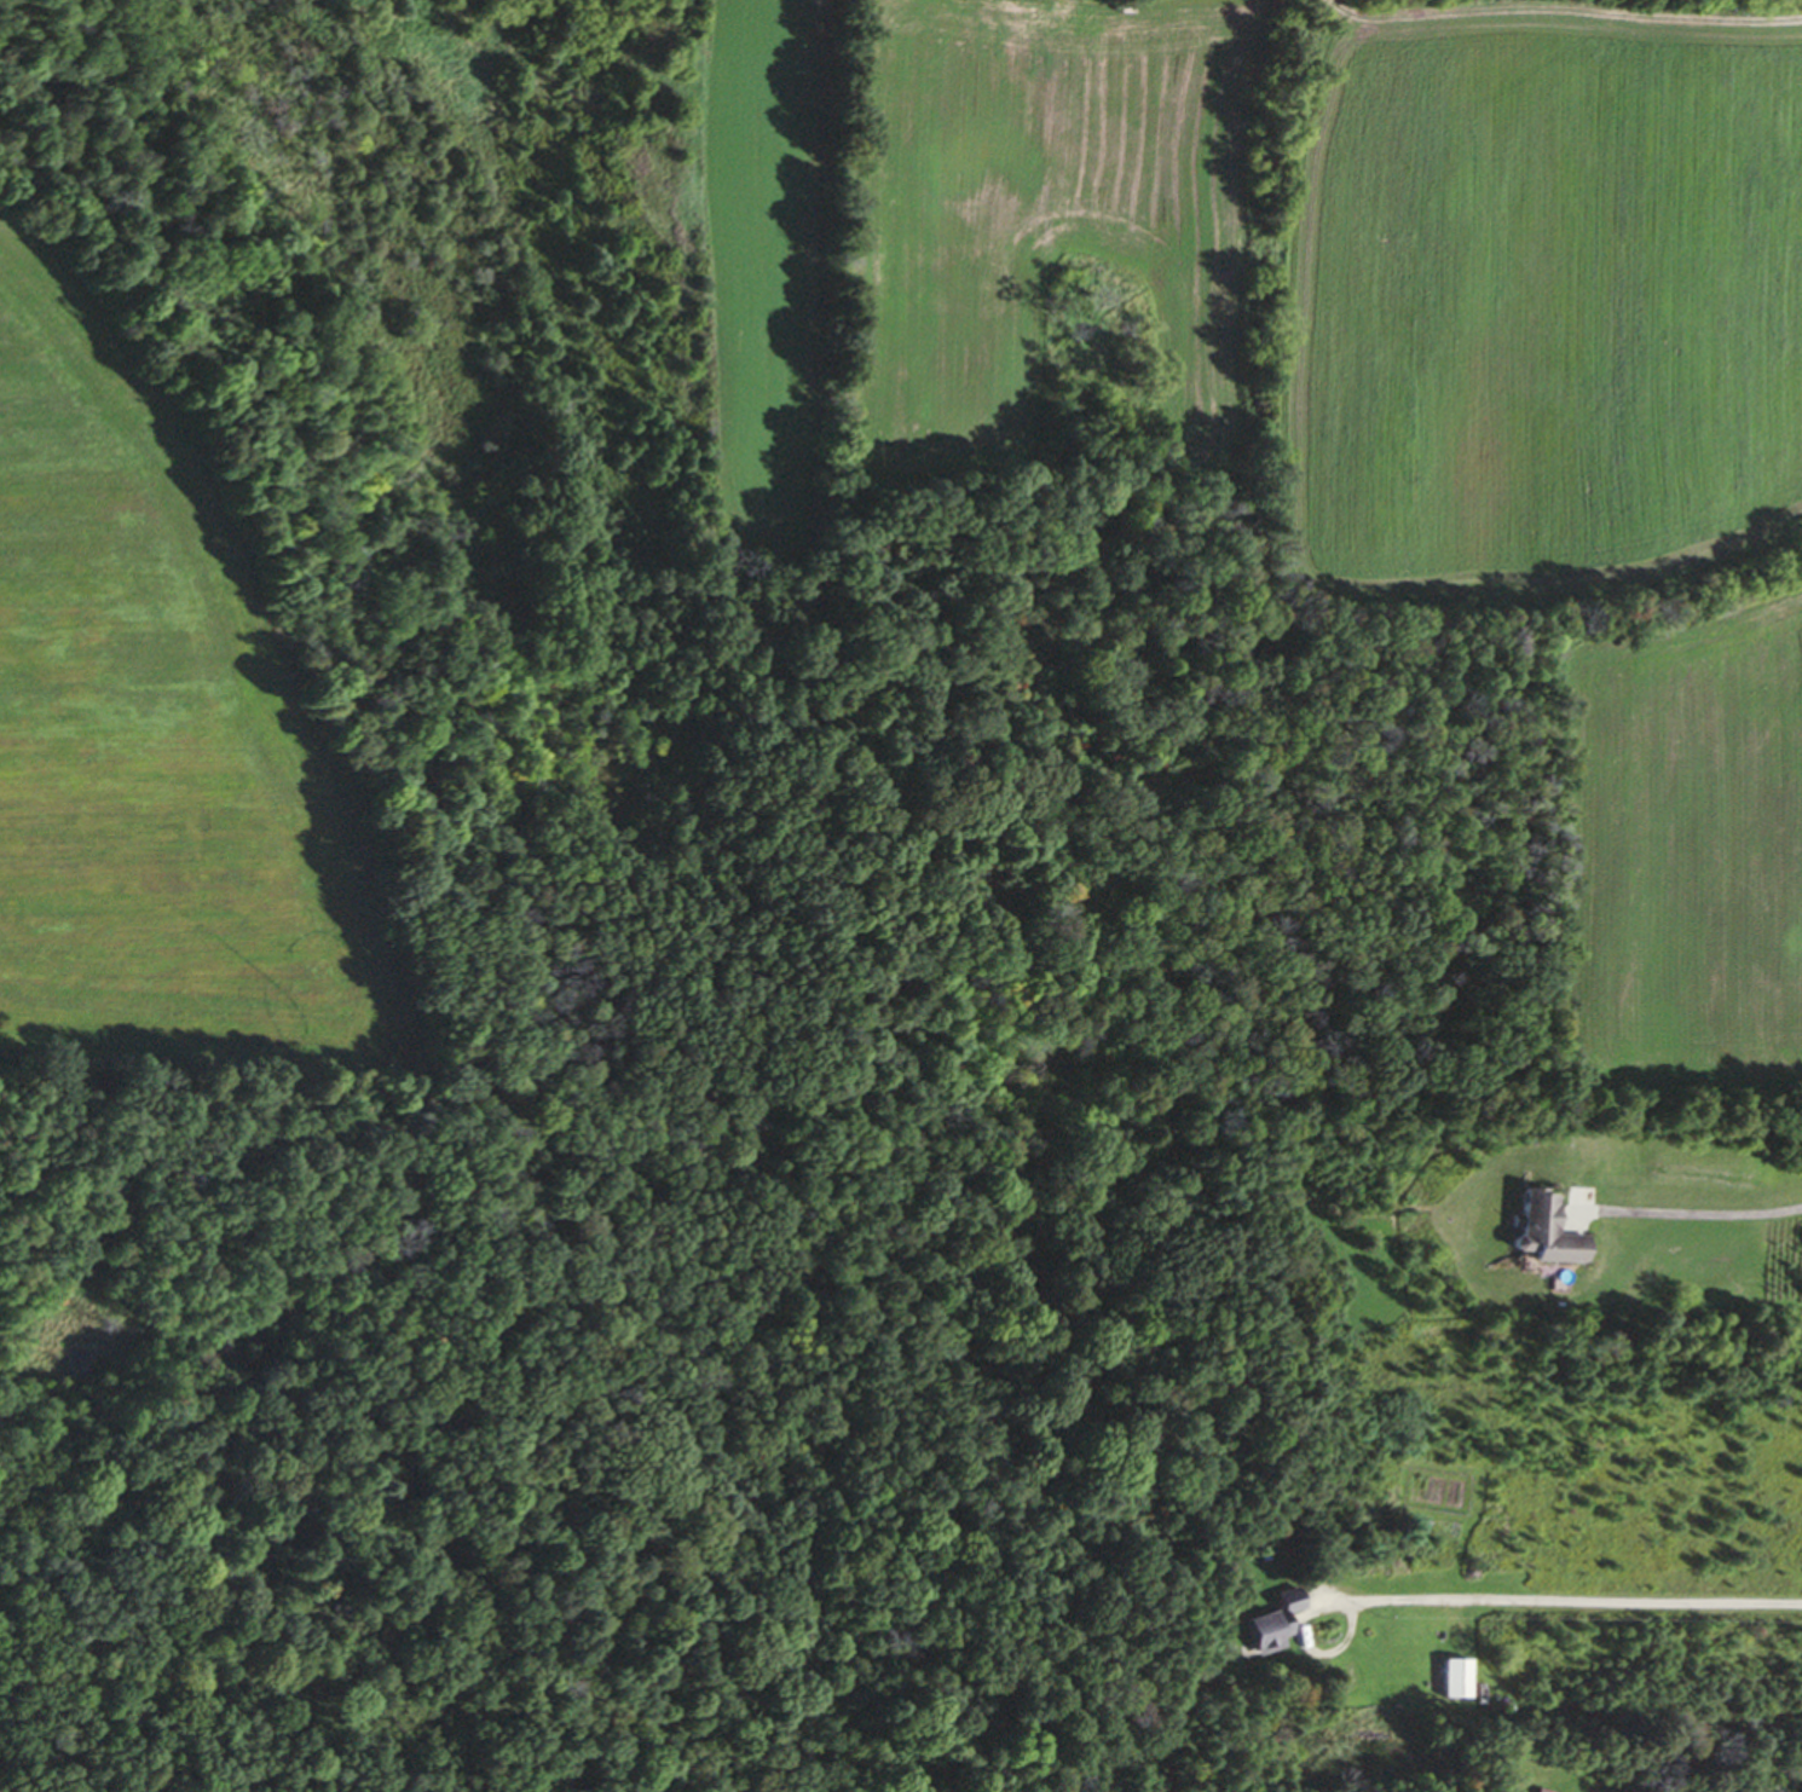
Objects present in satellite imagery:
road: (1709, 1216)
building: (1542, 1232)
road: (1578, 1601)
building: (1271, 1625)
road: (1310, 1648)
building: (1452, 1680)
building: (1534, 1791)

